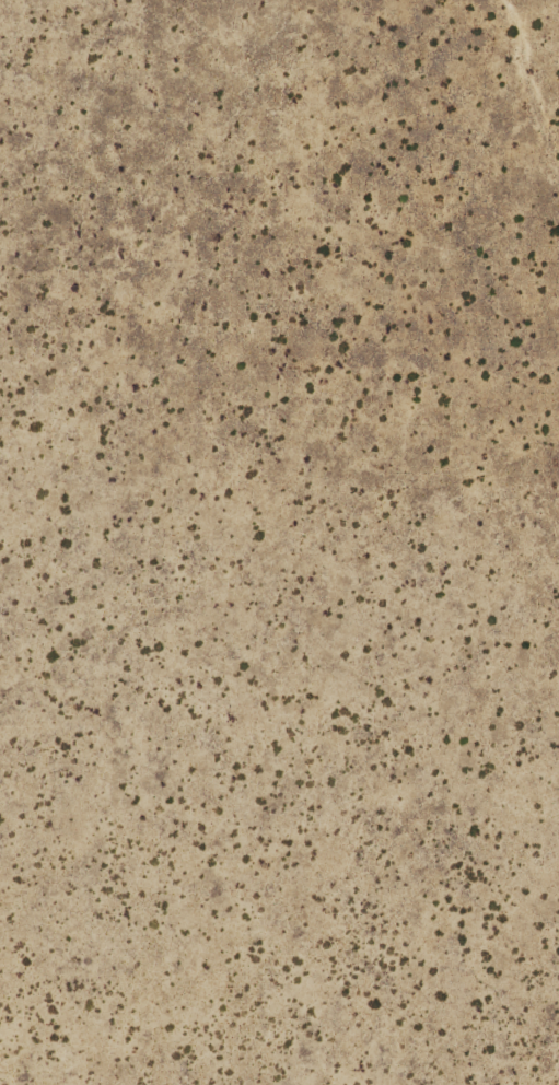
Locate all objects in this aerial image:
road: (494, 91)

